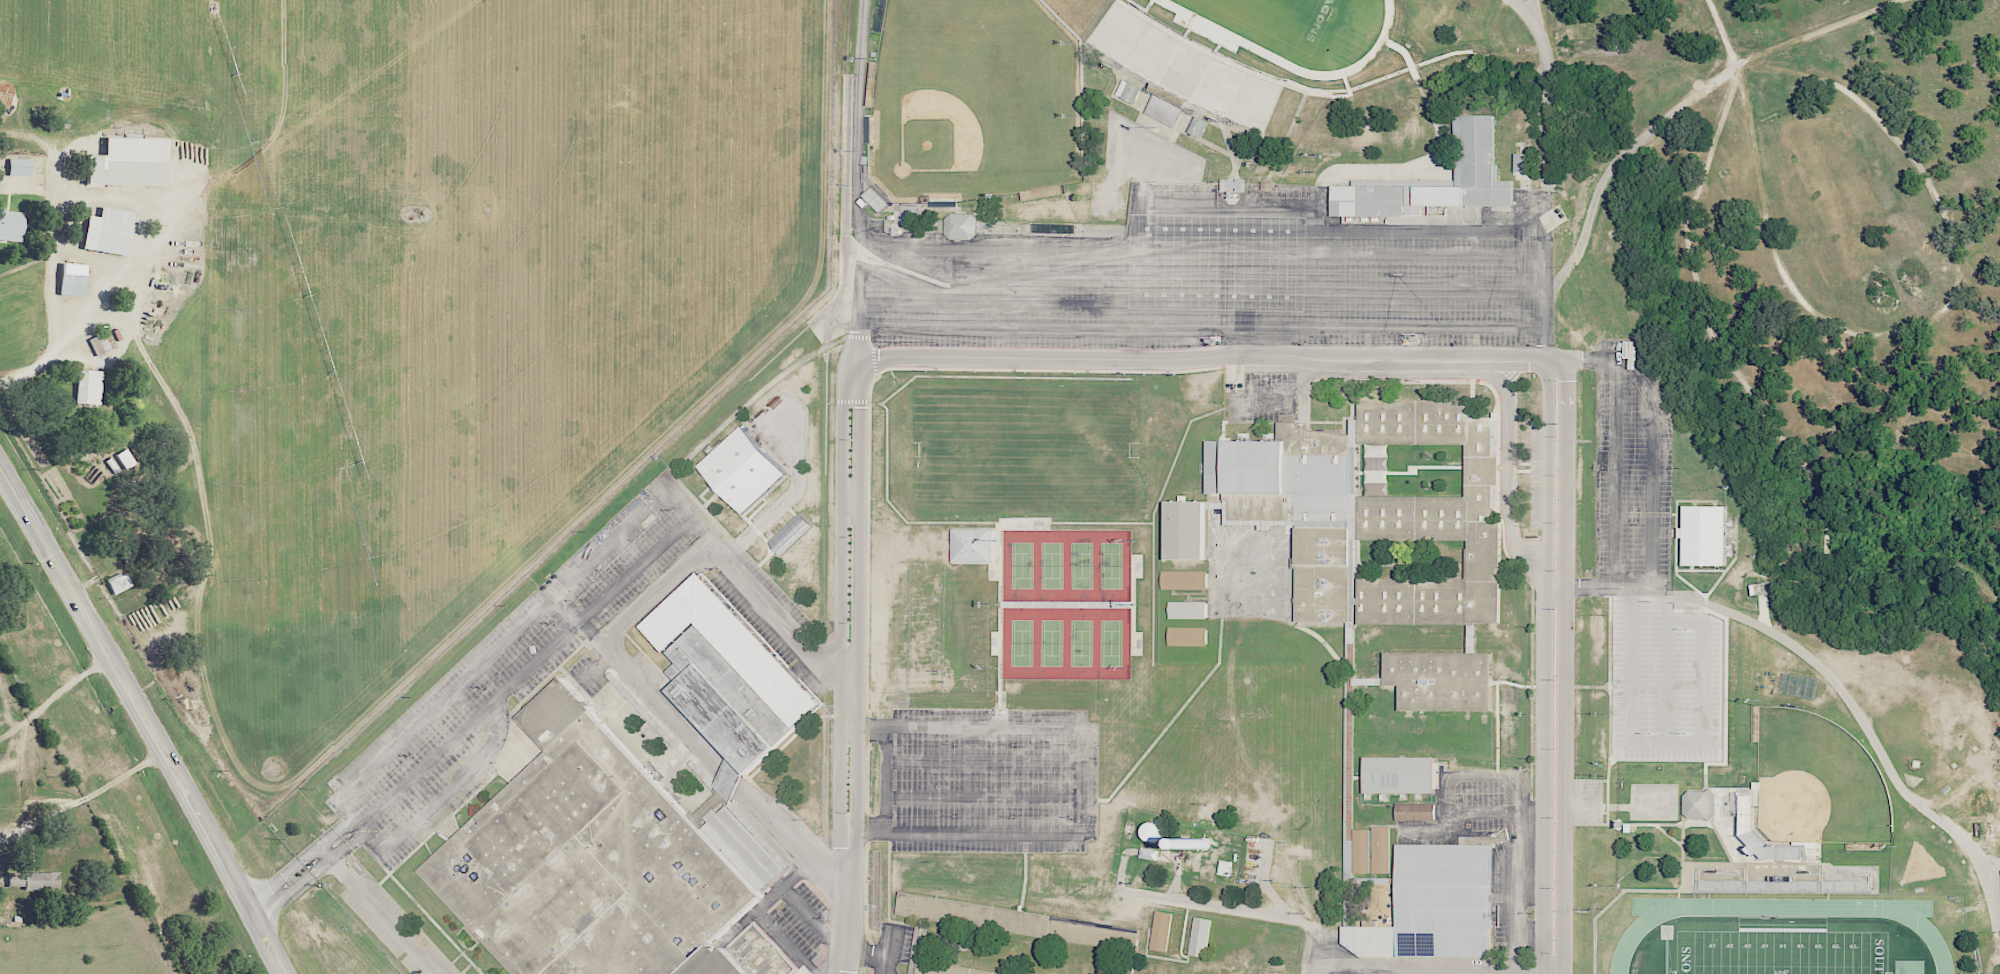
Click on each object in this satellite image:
road: (1533, 10)
park: (1285, 18)
track: (1297, 30)
track: (1236, 39)
building: (1130, 91)
park: (981, 94)
park: (974, 100)
road: (1547, 101)
building: (1199, 127)
park: (940, 143)
road: (1621, 156)
building: (1525, 161)
building: (131, 162)
building: (21, 166)
building: (1436, 179)
building: (1233, 184)
road: (19, 187)
road: (135, 196)
road: (1192, 204)
building: (12, 225)
building: (962, 225)
road: (1397, 230)
building: (110, 231)
road: (1091, 235)
road: (867, 239)
road: (1398, 255)
road: (1097, 271)
building: (73, 279)
parking lot: (1224, 281)
road: (1399, 288)
crop: (442, 292)
road: (1057, 305)
road: (1398, 325)
road: (1056, 329)
road: (1195, 356)
road: (36, 368)
road: (160, 376)
road: (1301, 383)
building: (89, 387)
road: (1652, 435)
park: (1024, 449)
road: (1509, 455)
building: (127, 459)
building: (742, 469)
road: (1615, 473)
building: (1284, 474)
road: (851, 496)
road: (788, 497)
road: (677, 504)
building: (1434, 516)
building: (1190, 529)
building: (792, 533)
building: (1706, 534)
road: (609, 541)
building: (973, 545)
parking lot: (626, 553)
park: (1081, 564)
road: (55, 565)
park: (1021, 565)
park: (1051, 565)
park: (1111, 565)
road: (635, 569)
building: (1324, 573)
parking lot: (1649, 577)
building: (1185, 579)
building: (120, 583)
road: (1560, 584)
road: (1614, 586)
road: (655, 592)
road: (566, 606)
road: (767, 608)
building: (1189, 609)
road: (840, 622)
road: (858, 622)
building: (1189, 636)
park: (1021, 642)
park: (1051, 642)
park: (1080, 642)
park: (1111, 642)
road: (1631, 663)
road: (1544, 664)
road: (597, 665)
road: (1564, 665)
building: (730, 672)
building: (1443, 680)
road: (1668, 680)
road: (65, 687)
road: (1703, 689)
road: (8, 696)
road: (443, 699)
road: (661, 705)
road: (1862, 719)
road: (12, 727)
parking lot: (447, 734)
road: (22, 750)
road: (484, 752)
road: (983, 760)
road: (425, 761)
building: (1400, 774)
road: (885, 778)
parking lot: (988, 779)
road: (1080, 779)
park: (1817, 781)
building: (724, 789)
road: (982, 797)
road: (62, 798)
road: (1580, 800)
parking lot: (1587, 802)
building: (1701, 803)
building: (1416, 811)
road: (1494, 813)
road: (196, 817)
building: (1750, 826)
building: (1156, 832)
road: (793, 841)
building: (1202, 843)
storage tank: (1202, 843)
building: (1382, 849)
building: (1363, 850)
building: (1150, 853)
road: (299, 861)
building: (595, 862)
building: (1225, 867)
road: (310, 876)
building: (17, 879)
building: (43, 881)
building: (1435, 905)
building: (928, 907)
road: (760, 914)
road: (1277, 916)
road: (383, 917)
road: (845, 918)
road: (811, 919)
parking lot: (395, 928)
building: (1162, 931)
building: (1201, 936)
track: (1630, 938)
road: (891, 947)
building: (758, 952)
park: (1780, 952)
road: (869, 954)
road: (881, 969)
building: (949, 969)
road: (1352, 971)
road: (1398, 972)
road: (1391, 973)
road: (1437, 973)

